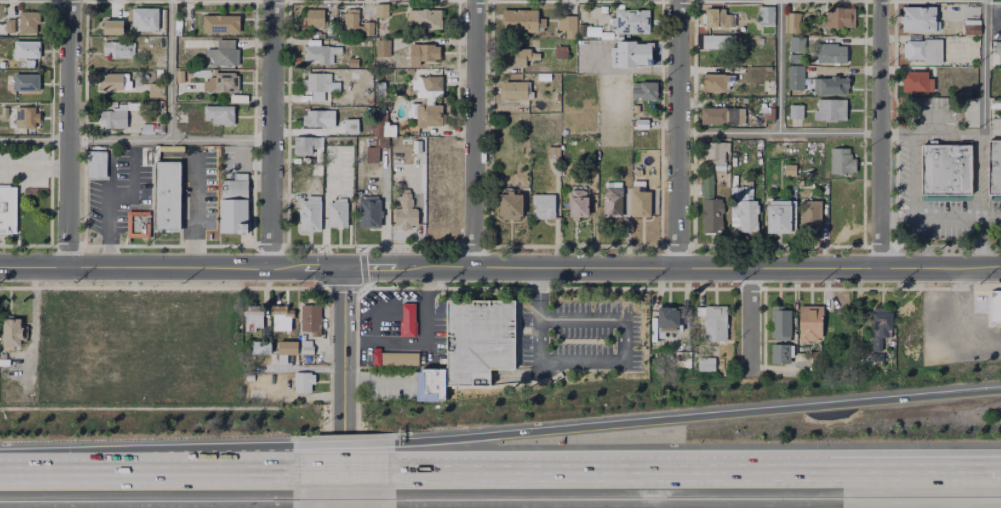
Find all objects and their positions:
building: (381, 11)
building: (317, 17)
building: (714, 17)
building: (766, 17)
building: (841, 18)
building: (148, 19)
building: (189, 19)
building: (425, 19)
building: (918, 19)
building: (30, 22)
building: (631, 22)
building: (791, 22)
building: (221, 24)
building: (527, 24)
building: (11, 26)
building: (357, 26)
building: (568, 26)
building: (2, 27)
building: (971, 27)
building: (112, 28)
building: (581, 31)
building: (592, 33)
building: (358, 43)
building: (719, 43)
building: (795, 45)
building: (998, 48)
building: (27, 50)
building: (118, 50)
building: (924, 51)
building: (323, 53)
building: (390, 53)
building: (423, 53)
building: (560, 53)
building: (224, 54)
building: (629, 54)
building: (832, 54)
building: (518, 58)
building: (796, 60)
building: (354, 64)
road: (778, 66)
road: (173, 69)
road: (632, 70)
building: (199, 72)
building: (160, 73)
building: (796, 78)
building: (26, 82)
building: (187, 82)
building: (916, 82)
building: (118, 83)
building: (222, 83)
building: (714, 84)
building: (320, 86)
building: (831, 86)
building: (428, 87)
building: (380, 89)
building: (515, 90)
building: (156, 91)
building: (645, 91)
building: (238, 97)
road: (614, 103)
building: (634, 109)
road: (982, 109)
building: (830, 110)
building: (411, 111)
building: (796, 112)
building: (770, 114)
building: (220, 115)
building: (429, 116)
road: (920, 116)
building: (27, 117)
building: (722, 117)
building: (114, 118)
building: (319, 119)
building: (654, 123)
building: (350, 125)
building: (642, 125)
building: (147, 129)
road: (677, 132)
road: (271, 133)
road: (474, 133)
road: (778, 133)
road: (880, 133)
road: (68, 134)
road: (897, 134)
road: (957, 134)
road: (34, 138)
road: (169, 139)
building: (380, 140)
building: (404, 140)
building: (394, 141)
building: (307, 147)
building: (416, 147)
building: (779, 149)
building: (716, 150)
building: (553, 153)
building: (841, 162)
building: (96, 163)
parking lot: (25, 167)
road: (34, 167)
building: (789, 167)
building: (338, 169)
building: (994, 169)
building: (317, 170)
building: (945, 170)
building: (521, 174)
road: (914, 176)
building: (707, 184)
building: (233, 186)
building: (639, 186)
parking lot: (117, 192)
road: (107, 197)
building: (167, 197)
building: (612, 199)
building: (641, 204)
building: (510, 206)
building: (578, 206)
building: (544, 207)
building: (712, 209)
building: (744, 209)
road: (193, 210)
building: (7, 211)
building: (405, 213)
building: (310, 215)
building: (370, 215)
building: (339, 216)
building: (232, 217)
building: (809, 217)
building: (780, 218)
road: (896, 218)
road: (957, 219)
building: (137, 223)
road: (981, 243)
road: (674, 266)
road: (173, 267)
road: (539, 280)
building: (995, 306)
building: (904, 315)
building: (282, 320)
building: (252, 321)
building: (310, 321)
building: (408, 321)
building: (669, 321)
road: (749, 321)
building: (879, 321)
road: (32, 324)
building: (716, 325)
building: (781, 325)
building: (810, 325)
parking lot: (579, 328)
building: (10, 331)
road: (422, 340)
building: (478, 340)
building: (262, 348)
building: (287, 348)
building: (306, 348)
building: (903, 353)
building: (780, 354)
building: (396, 359)
building: (682, 359)
road: (611, 361)
building: (721, 361)
building: (707, 364)
building: (815, 365)
building: (303, 383)
building: (430, 386)
road: (348, 387)
road: (697, 417)
road: (347, 453)
road: (984, 464)
road: (265, 466)
road: (775, 471)
road: (984, 471)
road: (73, 472)
road: (188, 472)
road: (261, 472)
road: (343, 472)
road: (487, 472)

